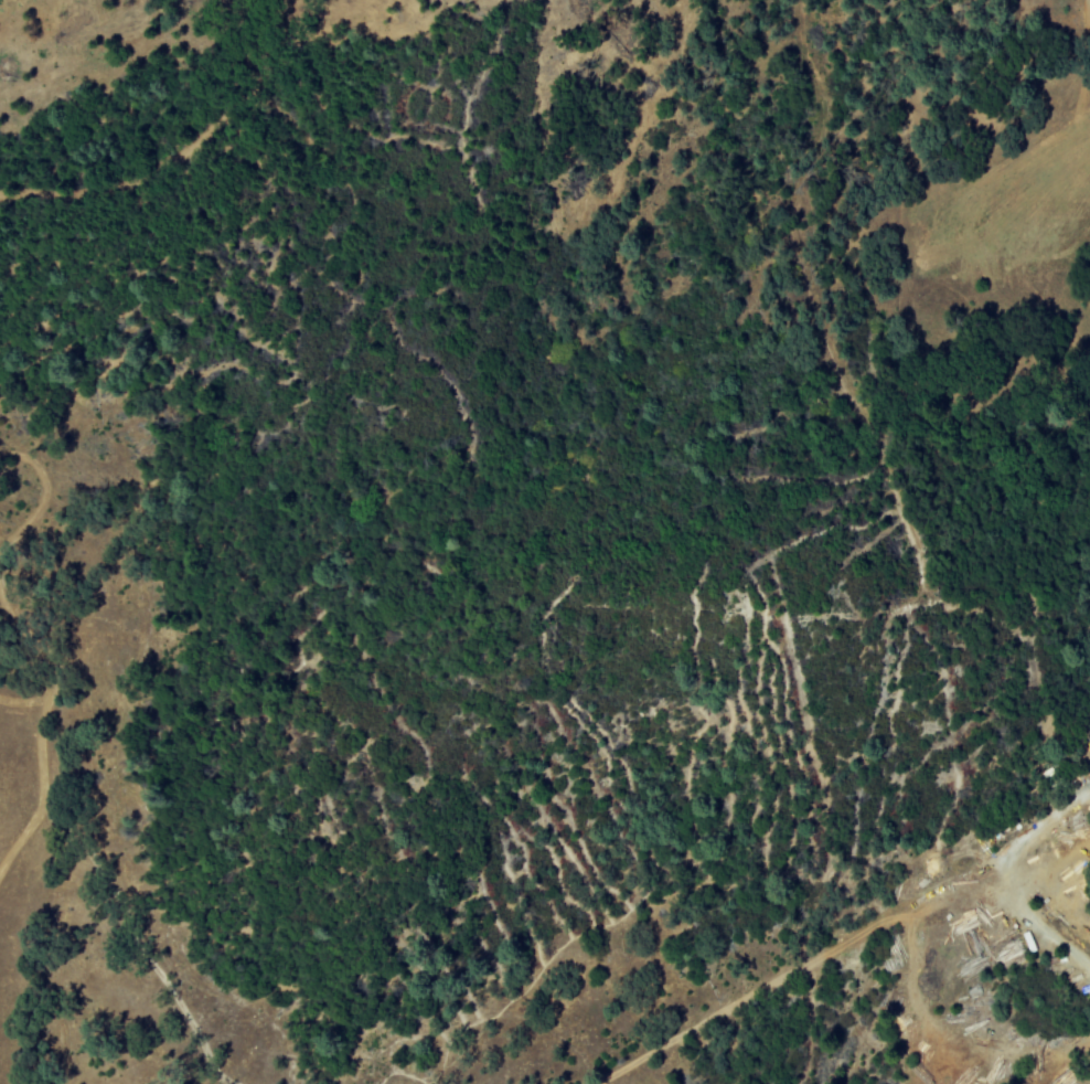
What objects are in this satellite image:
road: (1033, 924)

